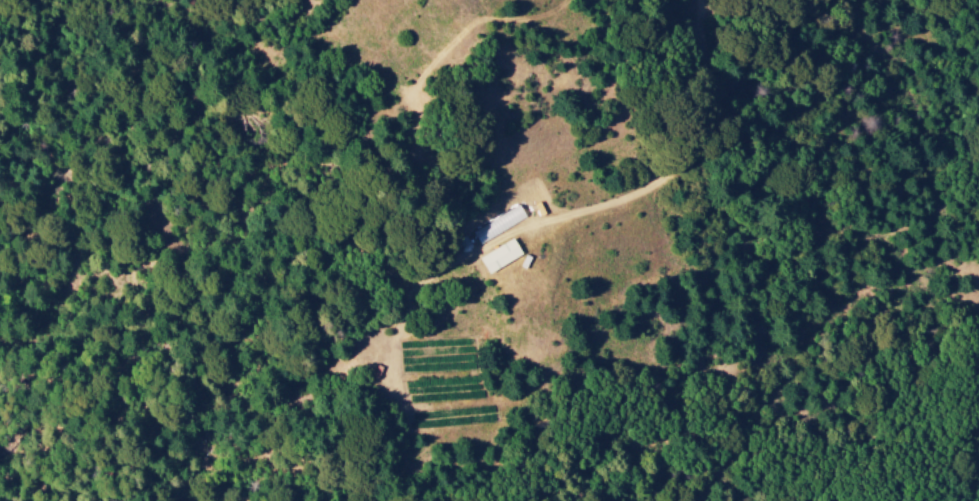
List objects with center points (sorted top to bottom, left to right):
building: (500, 256)

